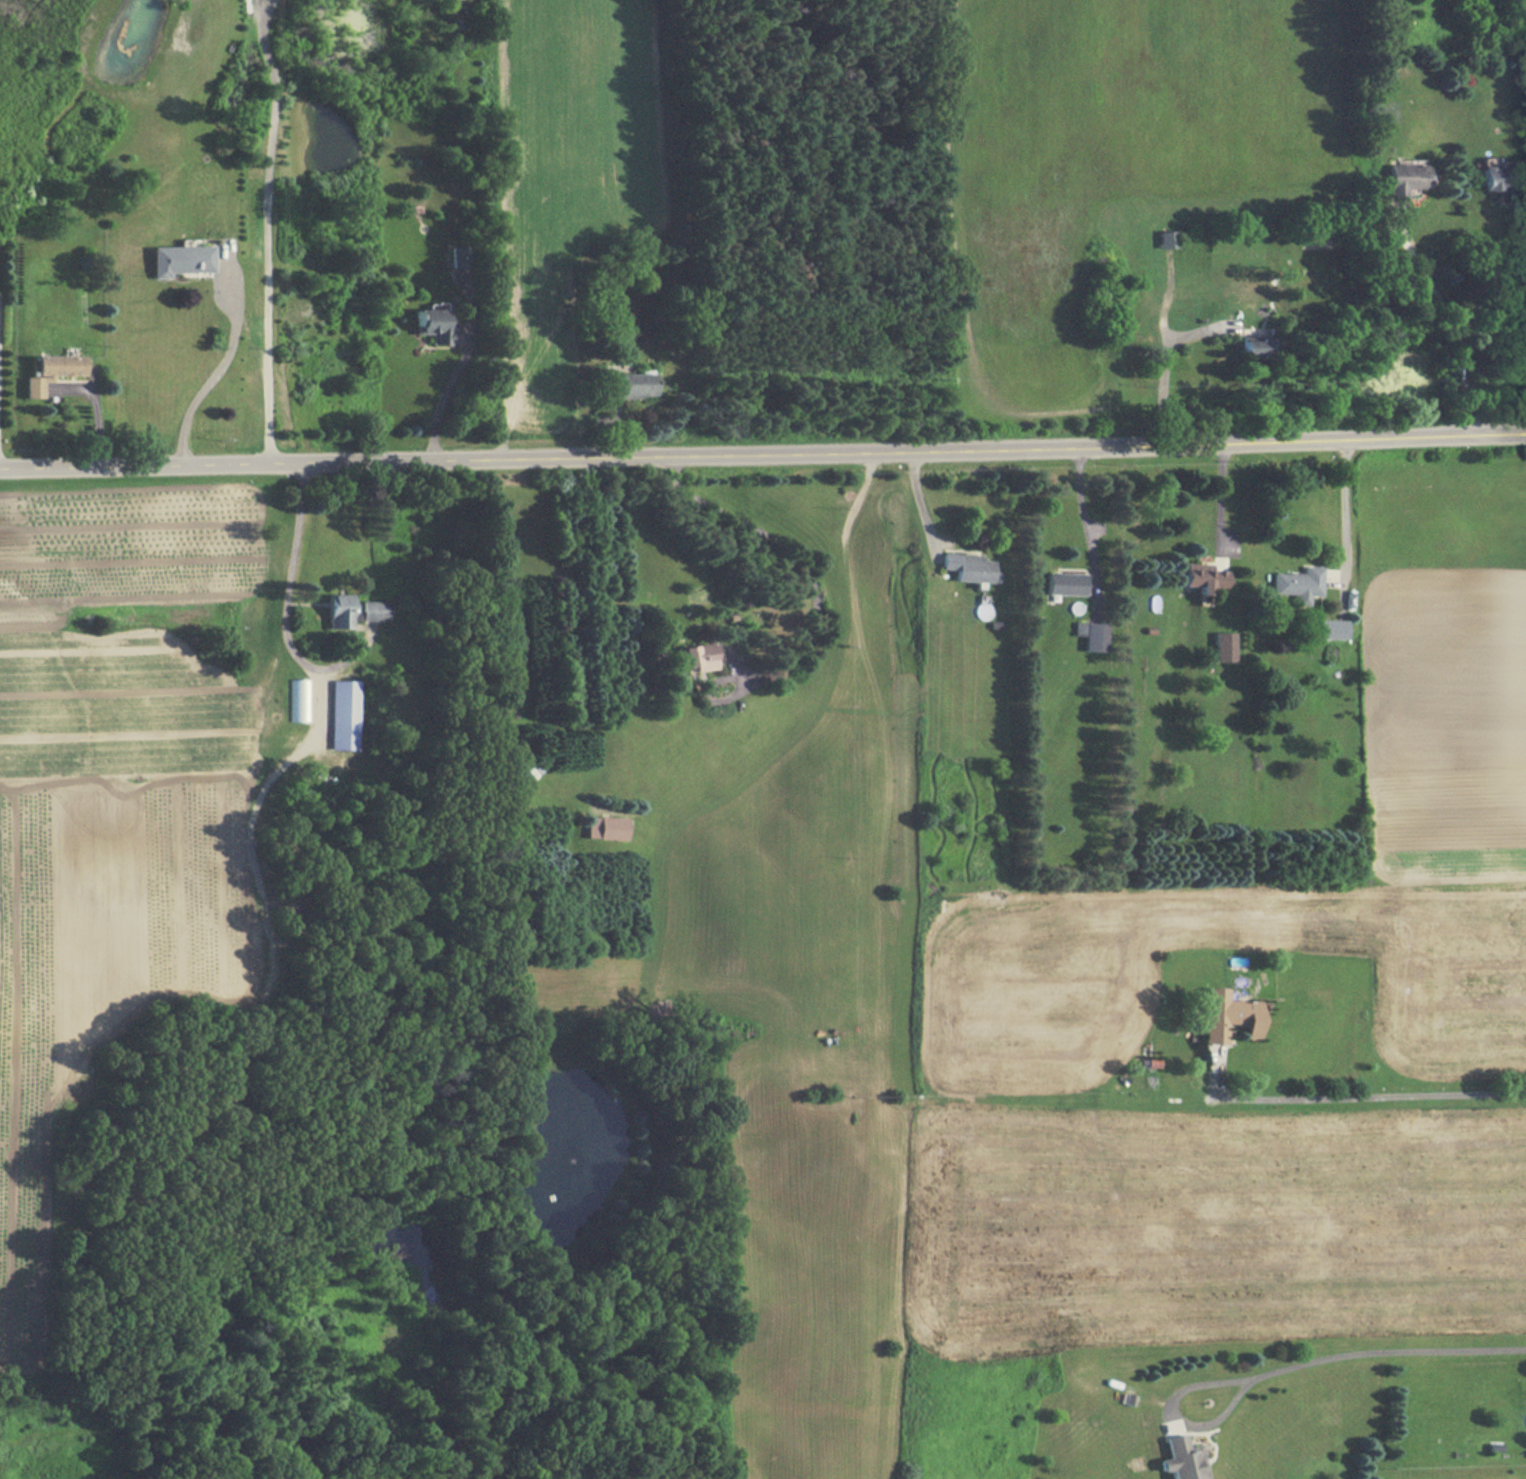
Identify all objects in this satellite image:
building: (1504, 178)
building: (1405, 179)
road: (266, 229)
road: (1522, 230)
building: (1167, 239)
building: (181, 260)
building: (461, 263)
road: (1495, 322)
building: (432, 325)
road: (1450, 325)
building: (1255, 347)
road: (1164, 364)
building: (54, 371)
road: (215, 373)
building: (630, 385)
road: (444, 394)
road: (763, 452)
road: (1219, 494)
road: (916, 496)
road: (1345, 509)
road: (1083, 515)
road: (789, 550)
building: (967, 566)
building: (1202, 577)
building: (1065, 583)
building: (1298, 584)
building: (374, 610)
building: (340, 611)
building: (1331, 629)
building: (1091, 635)
building: (1222, 646)
building: (697, 656)
building: (299, 700)
building: (345, 714)
building: (606, 828)
road: (261, 899)
building: (1228, 1015)
road: (1376, 1096)
road: (1364, 1351)
building: (1182, 1459)

